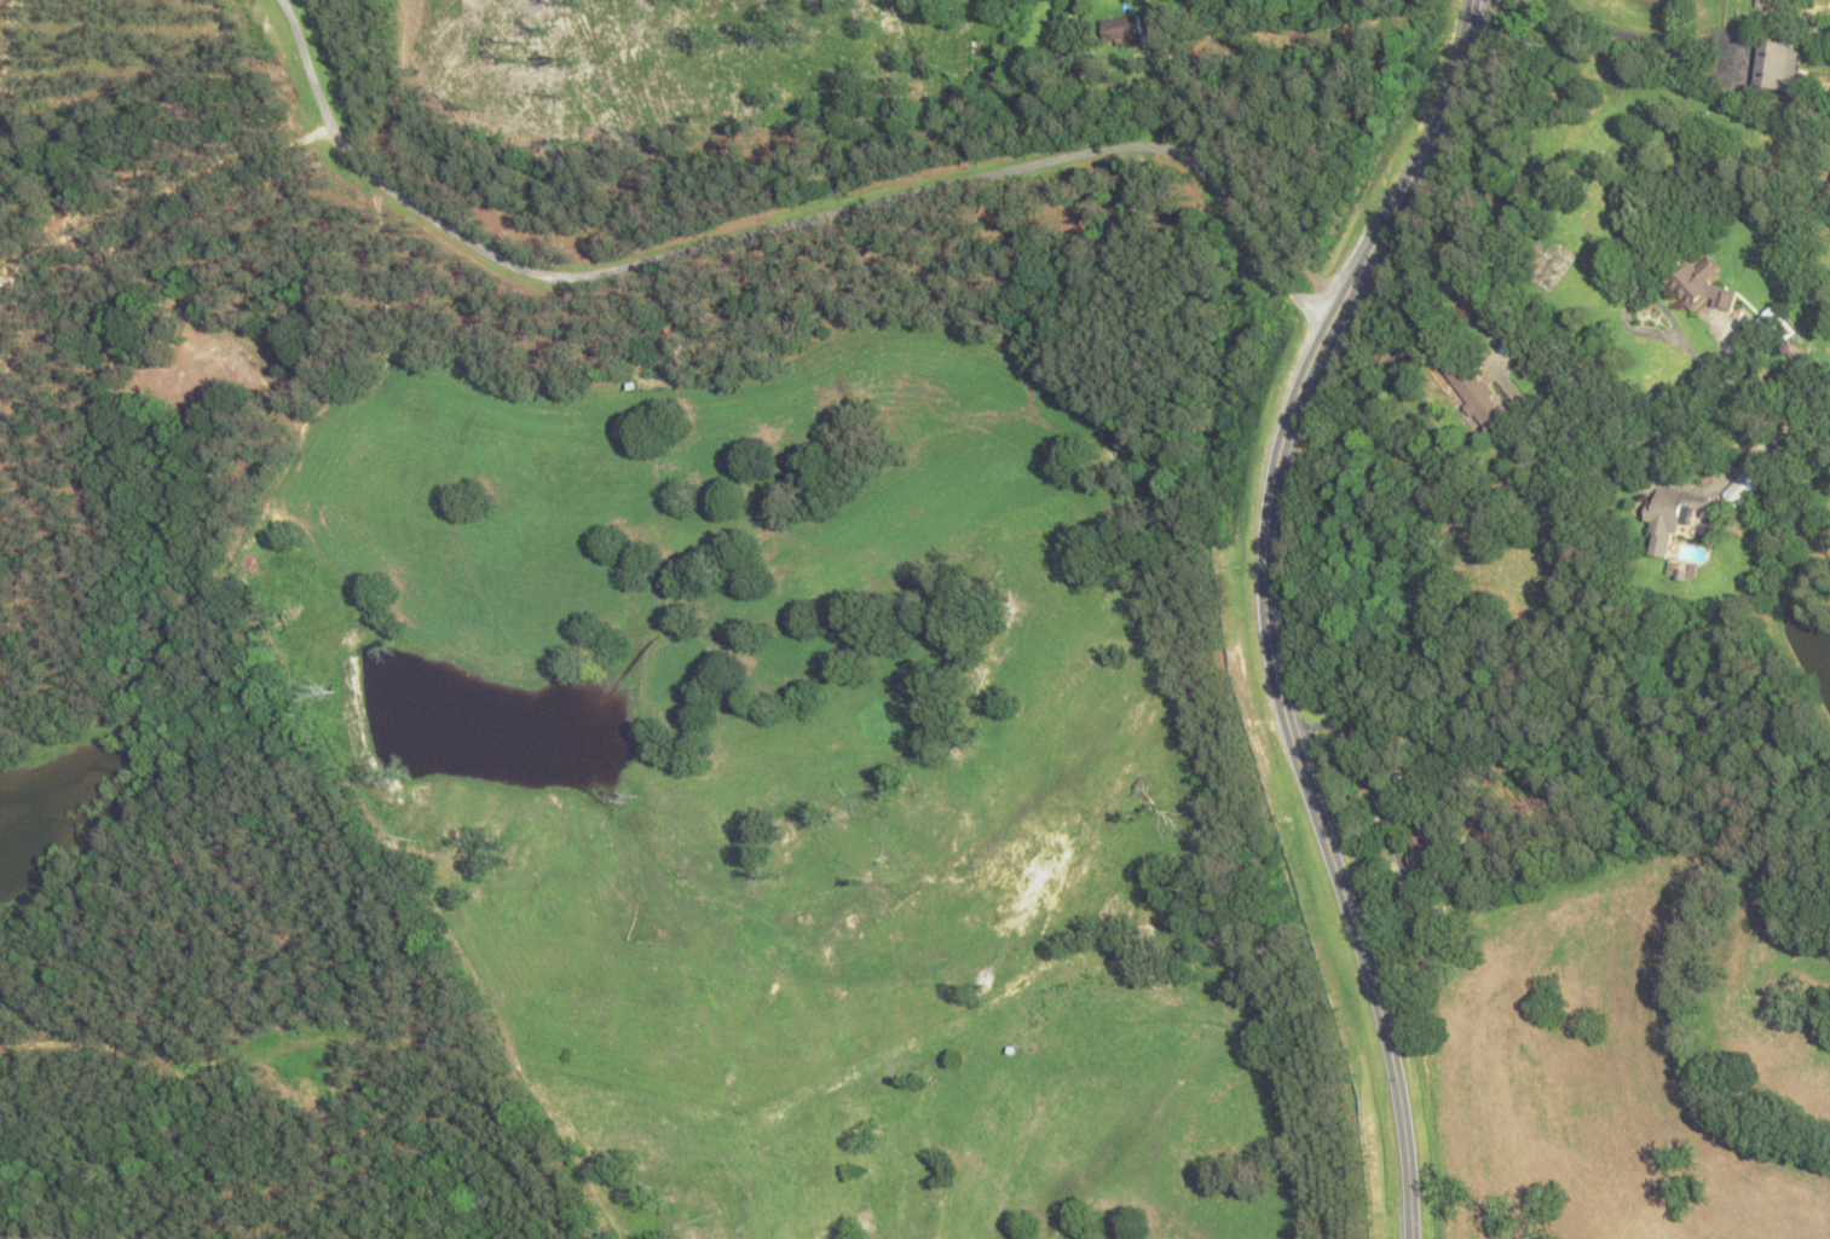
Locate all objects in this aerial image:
building: (1128, 34)
building: (1772, 79)
road: (1081, 171)
building: (1697, 288)
building: (1779, 328)
building: (1484, 405)
road: (1543, 455)
building: (1751, 482)
building: (1673, 519)
road: (629, 551)
road: (1266, 607)
building: (1425, 861)

